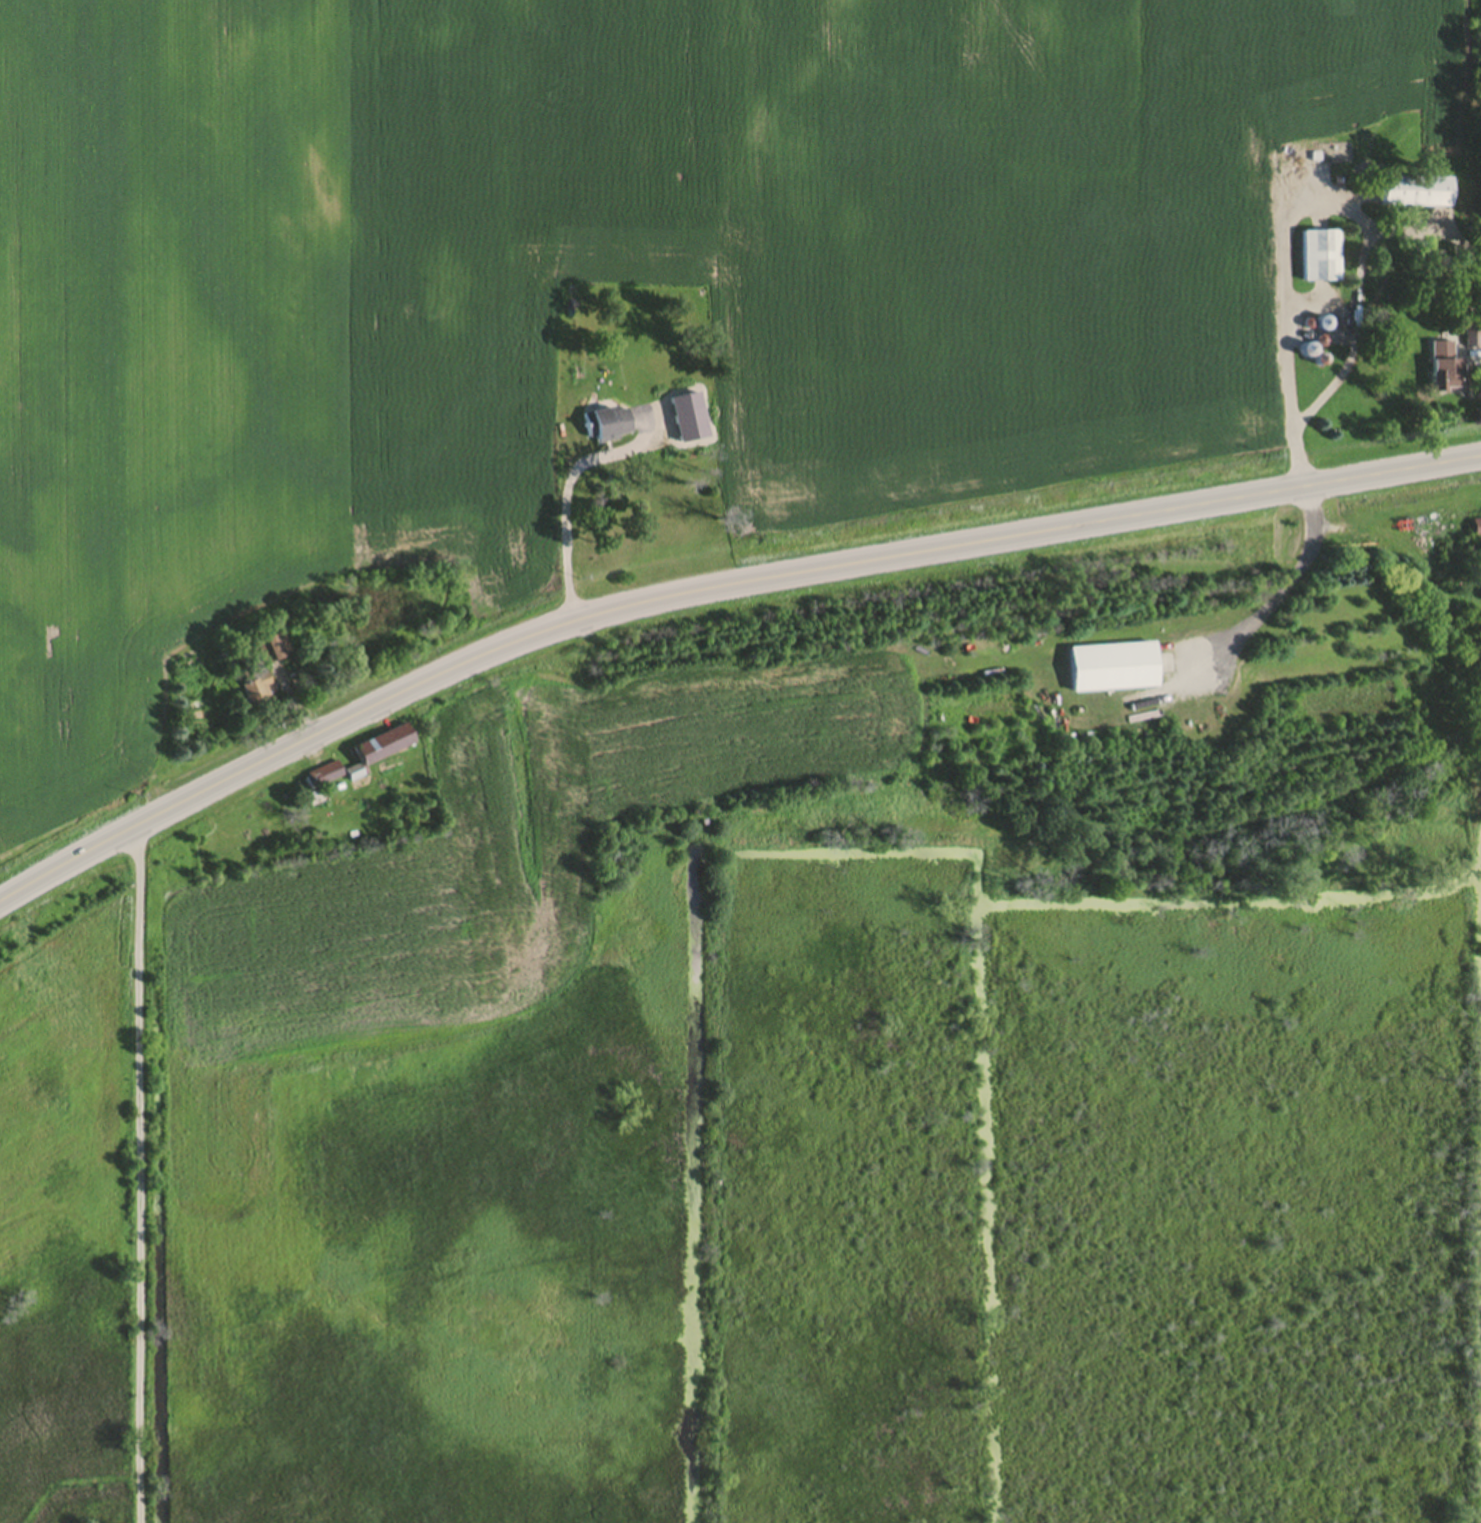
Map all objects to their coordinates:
building: (1416, 194)
building: (1320, 258)
road: (1280, 268)
road: (1350, 308)
building: (1471, 337)
building: (1444, 371)
building: (607, 426)
road: (564, 497)
building: (1477, 530)
road: (710, 591)
road: (1265, 597)
building: (272, 651)
building: (1111, 671)
building: (256, 692)
building: (383, 748)
building: (325, 778)
road: (142, 1176)

